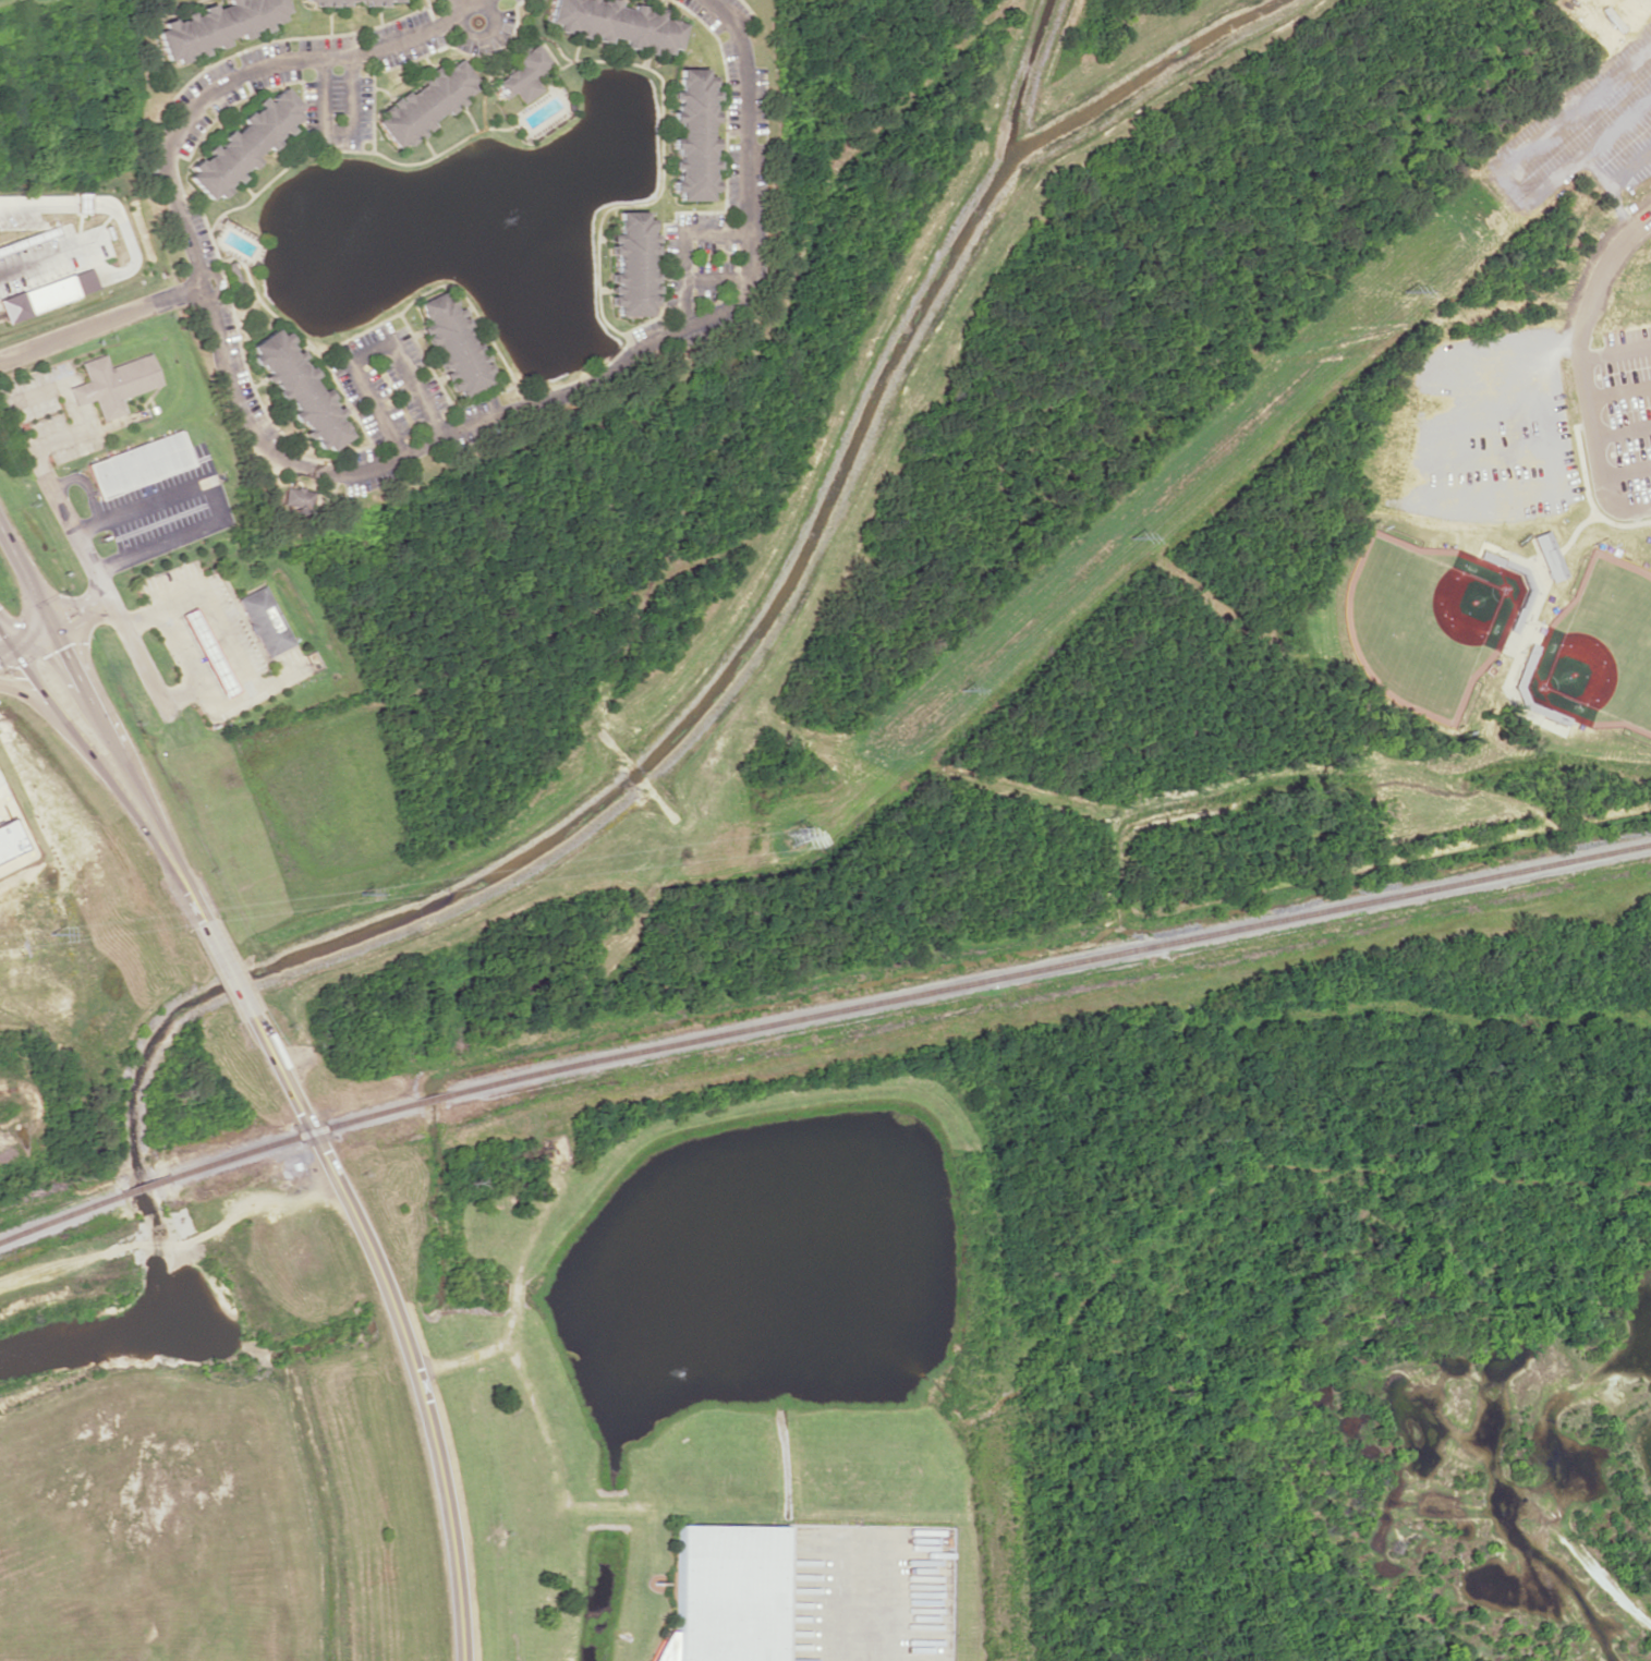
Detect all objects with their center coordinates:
building: (303, 0)
building: (392, 0)
building: (316, 2)
building: (328, 2)
building: (339, 2)
building: (366, 2)
building: (378, 2)
road: (457, 3)
building: (614, 23)
building: (214, 25)
building: (521, 73)
building: (423, 104)
parking lot: (1585, 131)
building: (690, 135)
building: (241, 143)
road: (678, 255)
building: (629, 265)
power tower: (1405, 290)
building: (45, 293)
road: (97, 324)
building: (452, 344)
road: (364, 352)
building: (112, 383)
building: (296, 388)
parking lot: (1615, 417)
building: (137, 463)
road: (331, 471)
building: (295, 498)
power tower: (1128, 537)
building: (1549, 555)
road: (24, 575)
road: (78, 605)
park: (1427, 619)
building: (262, 620)
traffic signals: (28, 635)
road: (24, 636)
park: (1598, 648)
building: (206, 651)
power tower: (959, 691)
road: (130, 771)
road: (104, 776)
power tower: (790, 839)
building: (10, 841)
power tower: (360, 895)
power tower: (48, 934)
railway: (1052, 967)
road: (230, 969)
railway: (433, 1098)
railway: (290, 1137)
railway: (145, 1185)
railway: (60, 1217)
road: (400, 1325)
river: (96, 1329)
building: (724, 1595)

